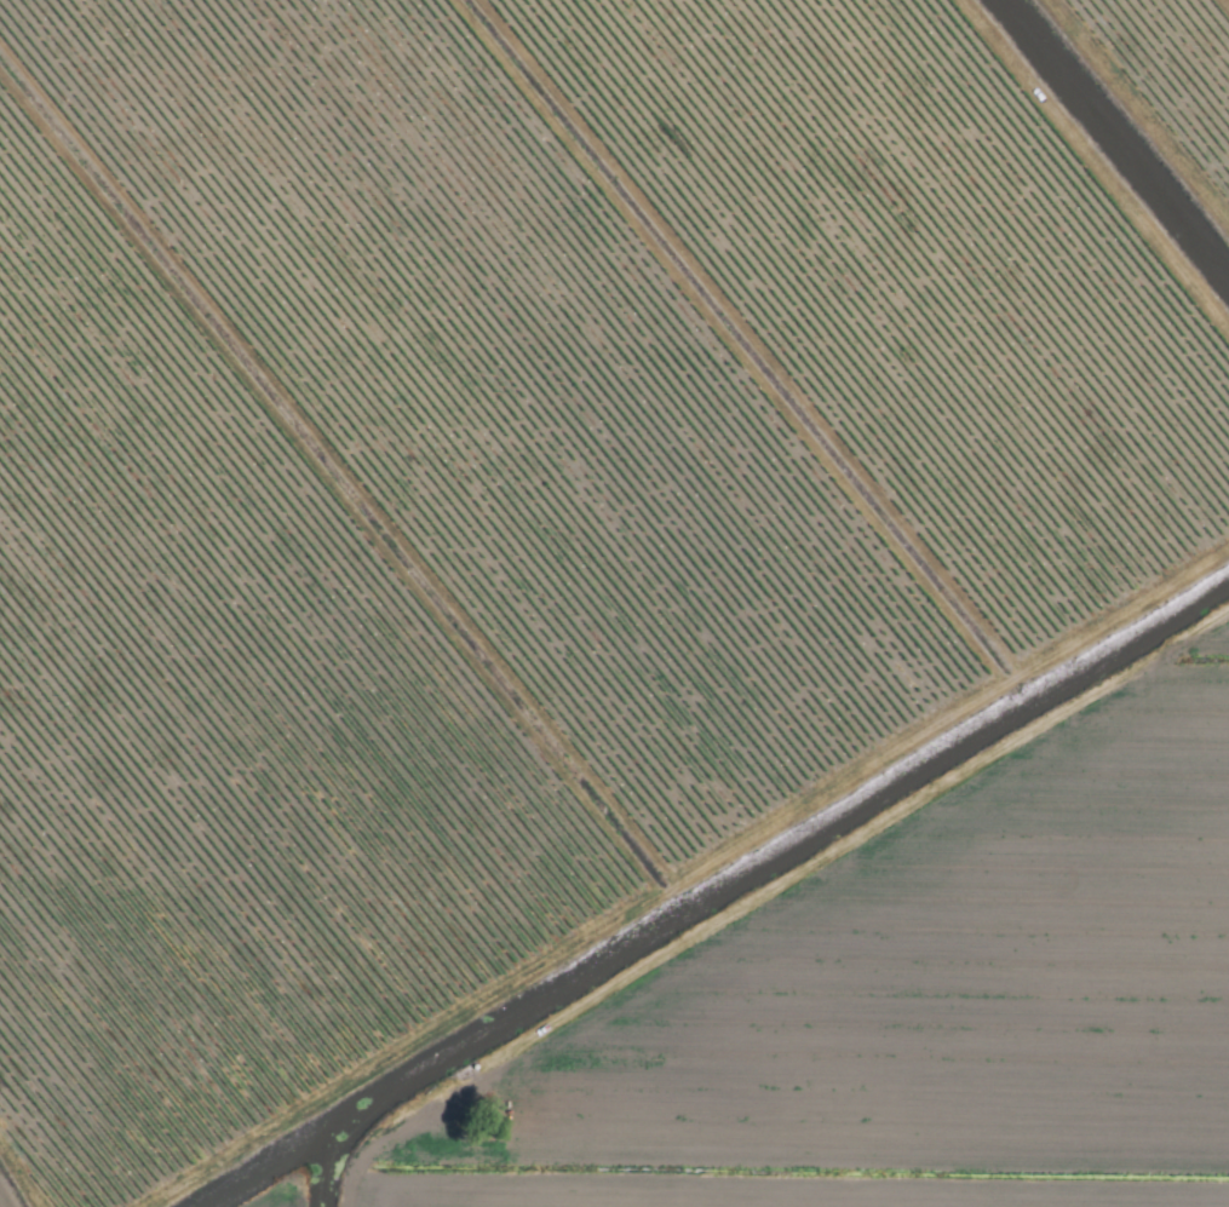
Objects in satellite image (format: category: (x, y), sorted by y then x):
crop: (614, 603)

